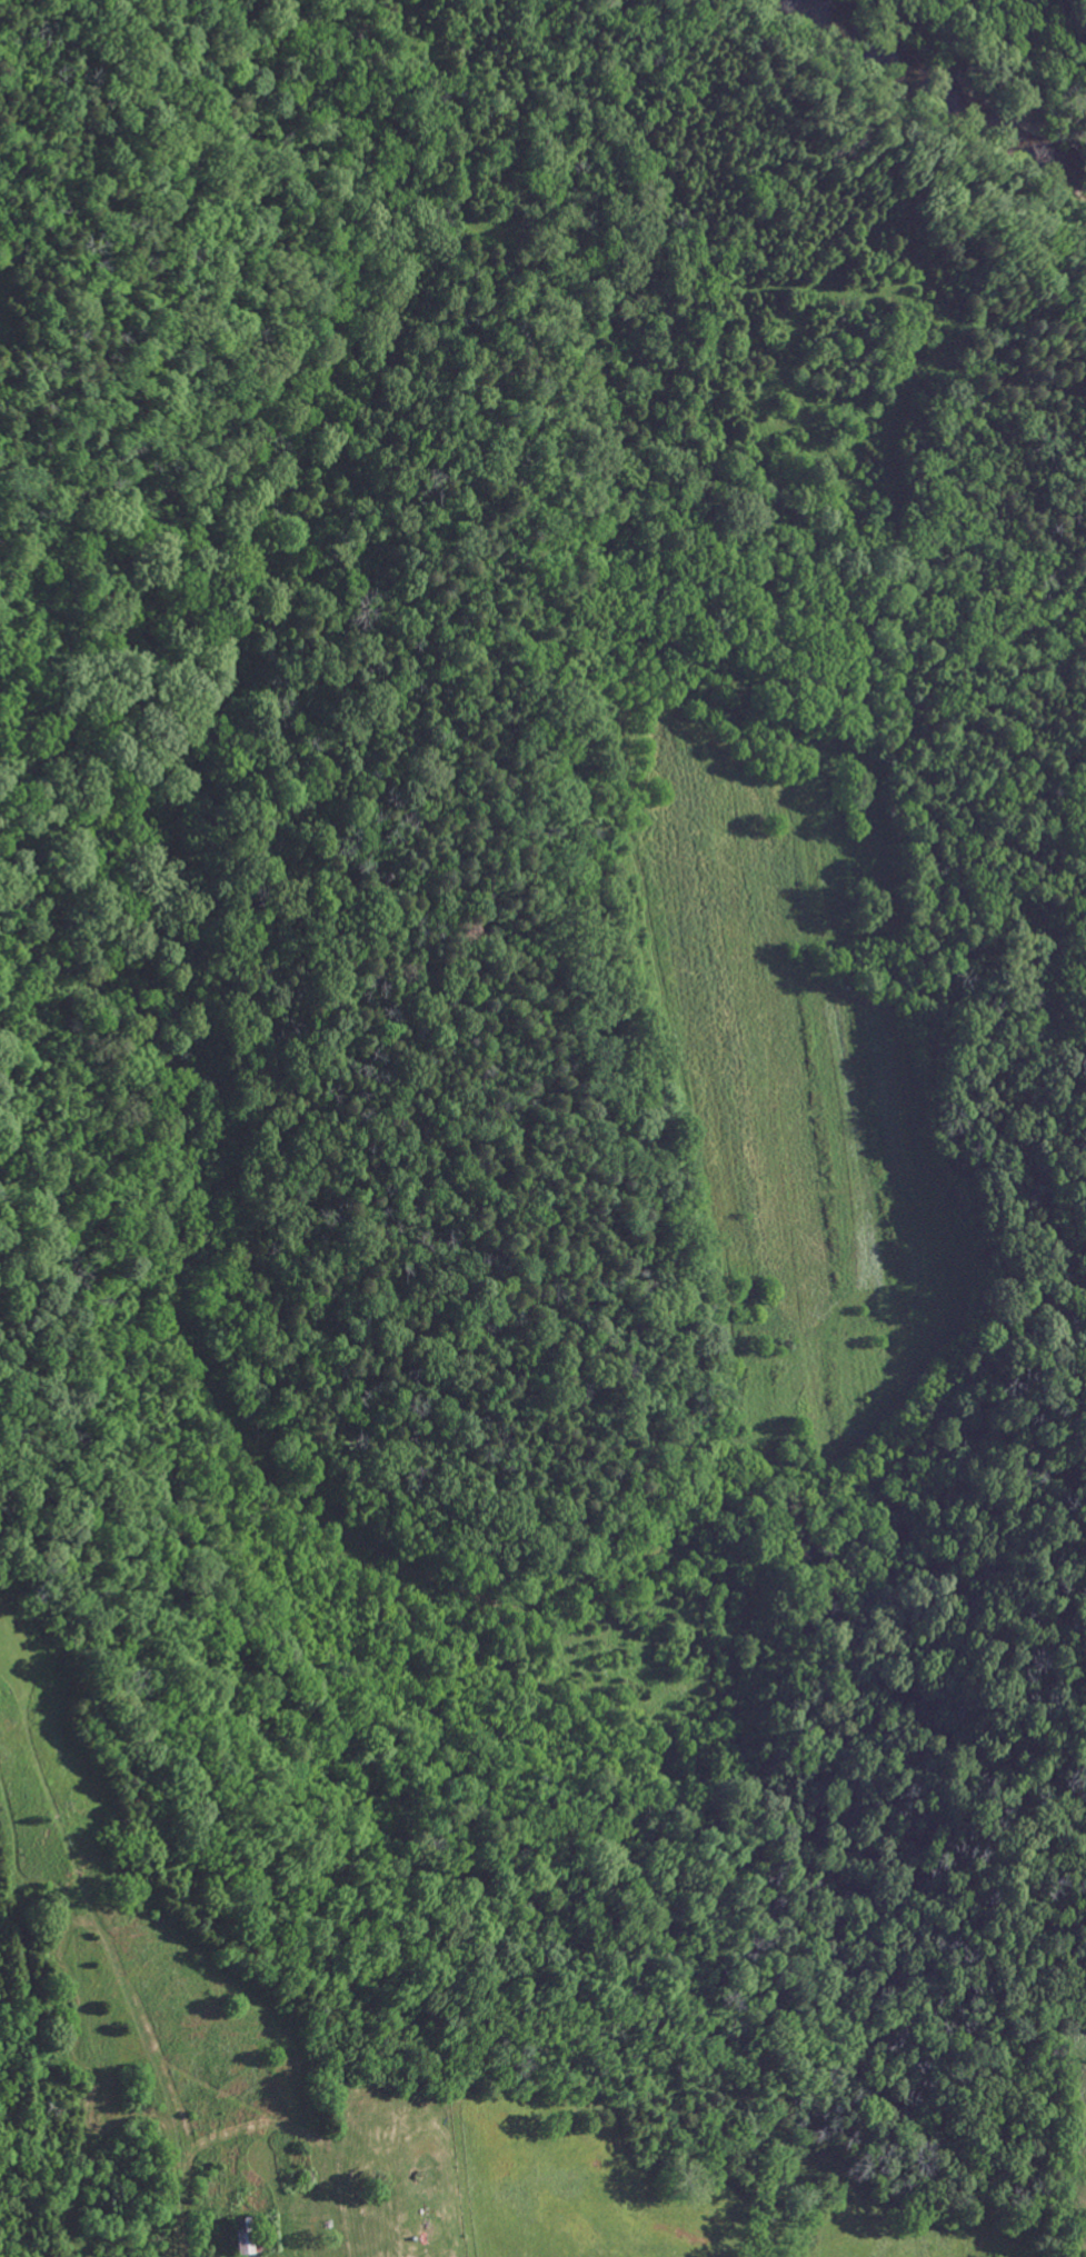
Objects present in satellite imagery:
river: (939, 93)

